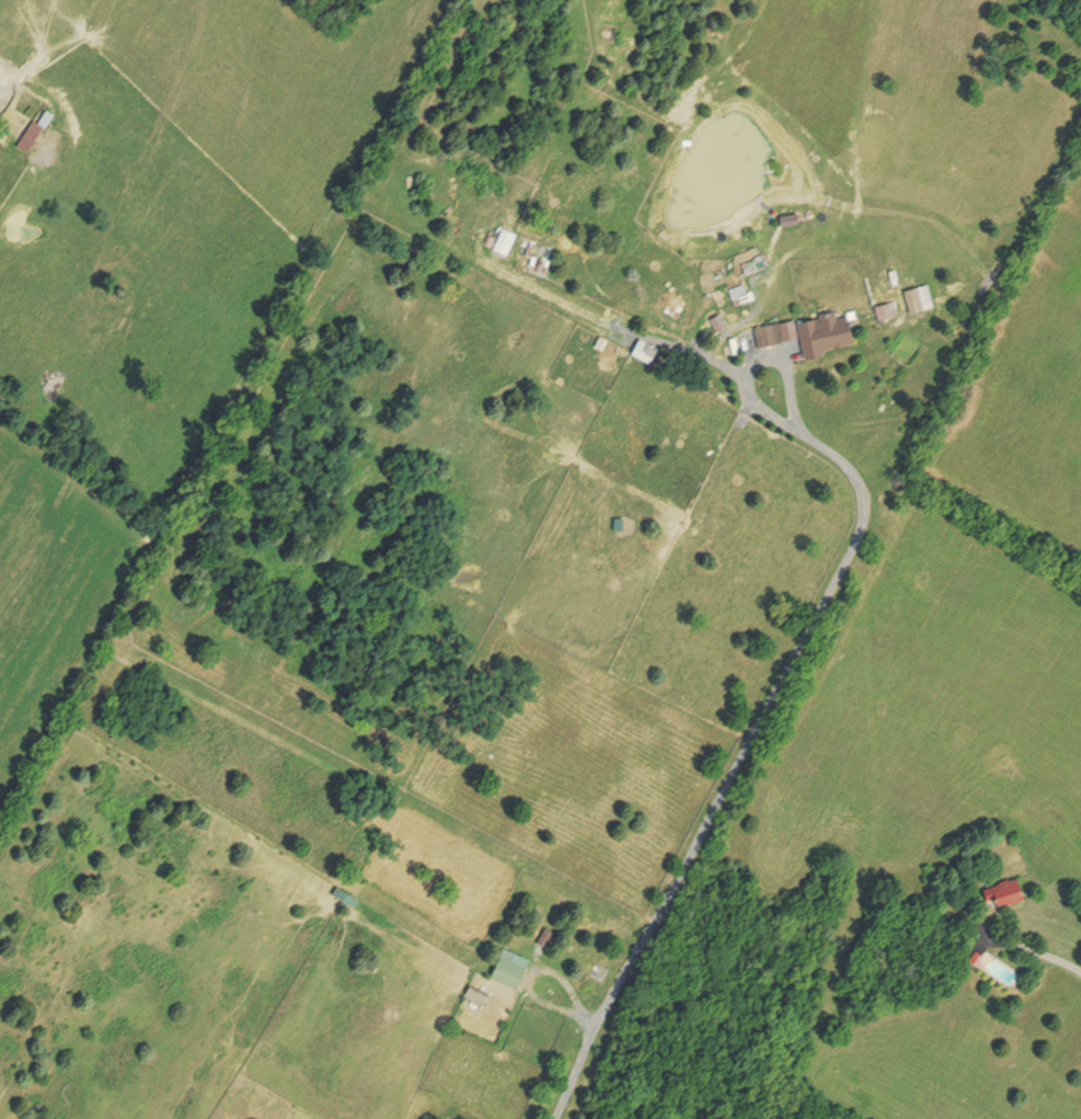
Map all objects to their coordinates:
road: (704, 355)
road: (759, 359)
road: (740, 764)
road: (1060, 962)

